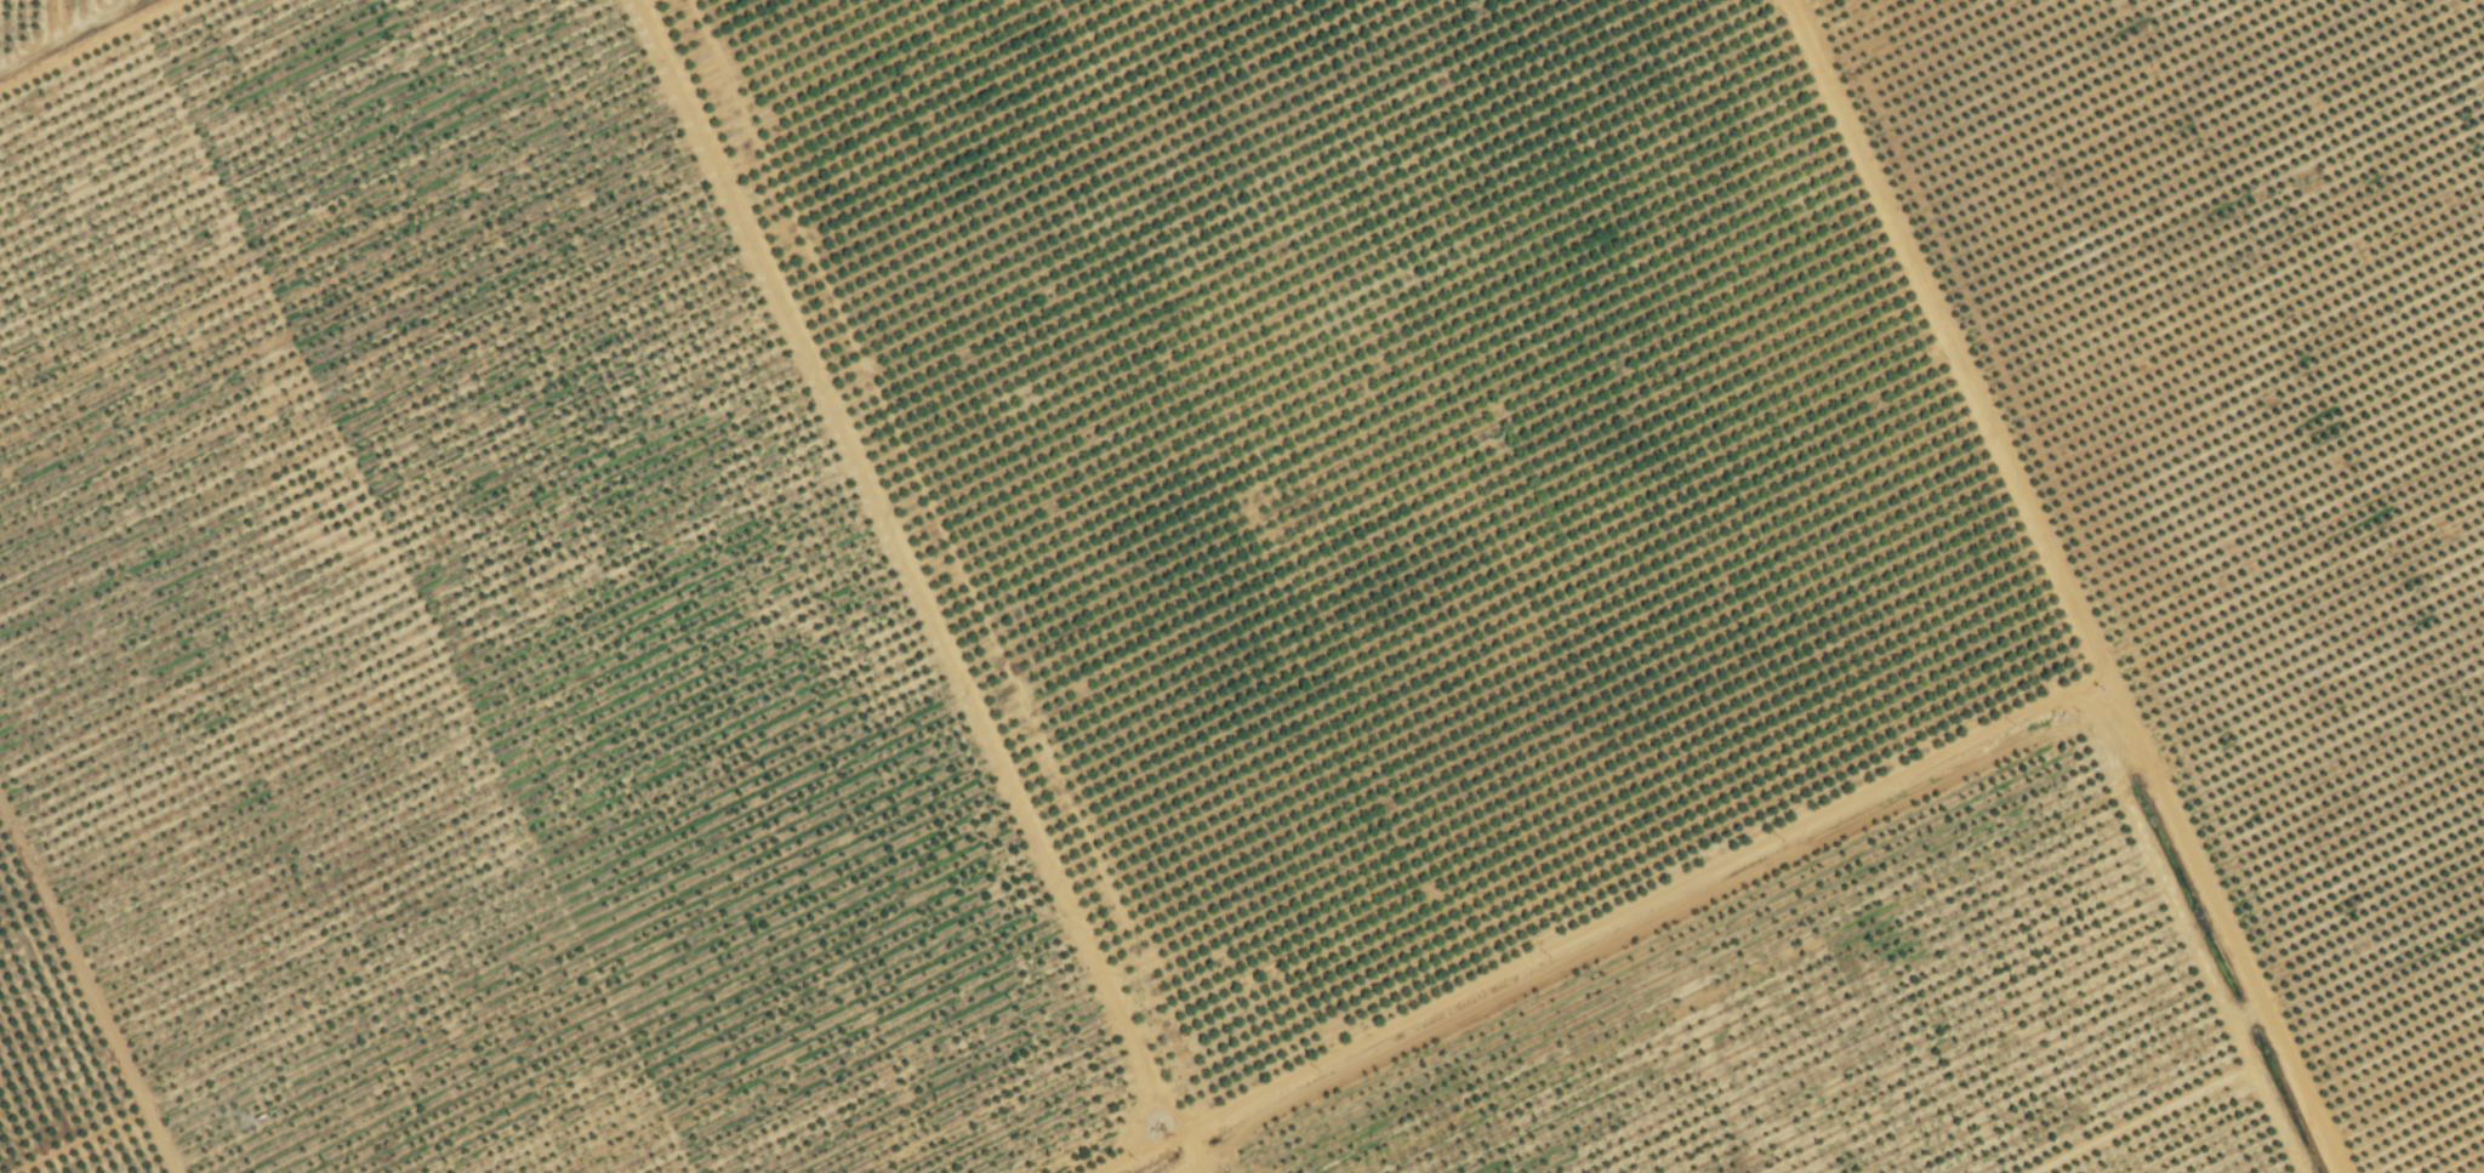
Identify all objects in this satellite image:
road: (147, 96)
road: (913, 566)
road: (2012, 583)
road: (1645, 904)
road: (1145, 1154)
road: (1192, 1154)

